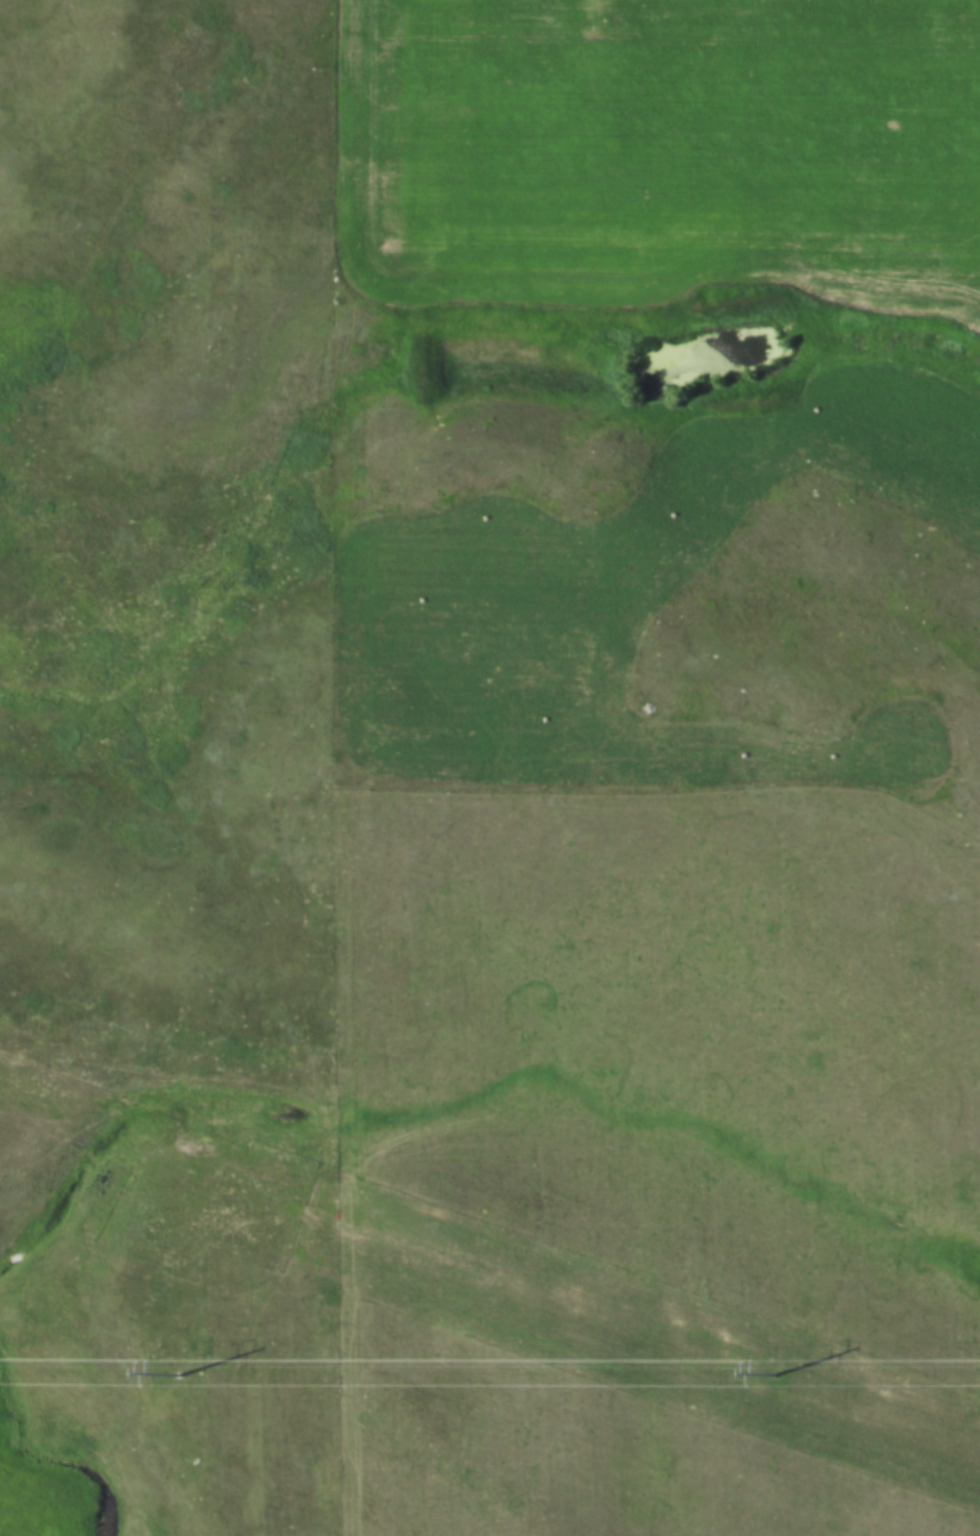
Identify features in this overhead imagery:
power tower: (176, 1375)
power tower: (767, 1375)

